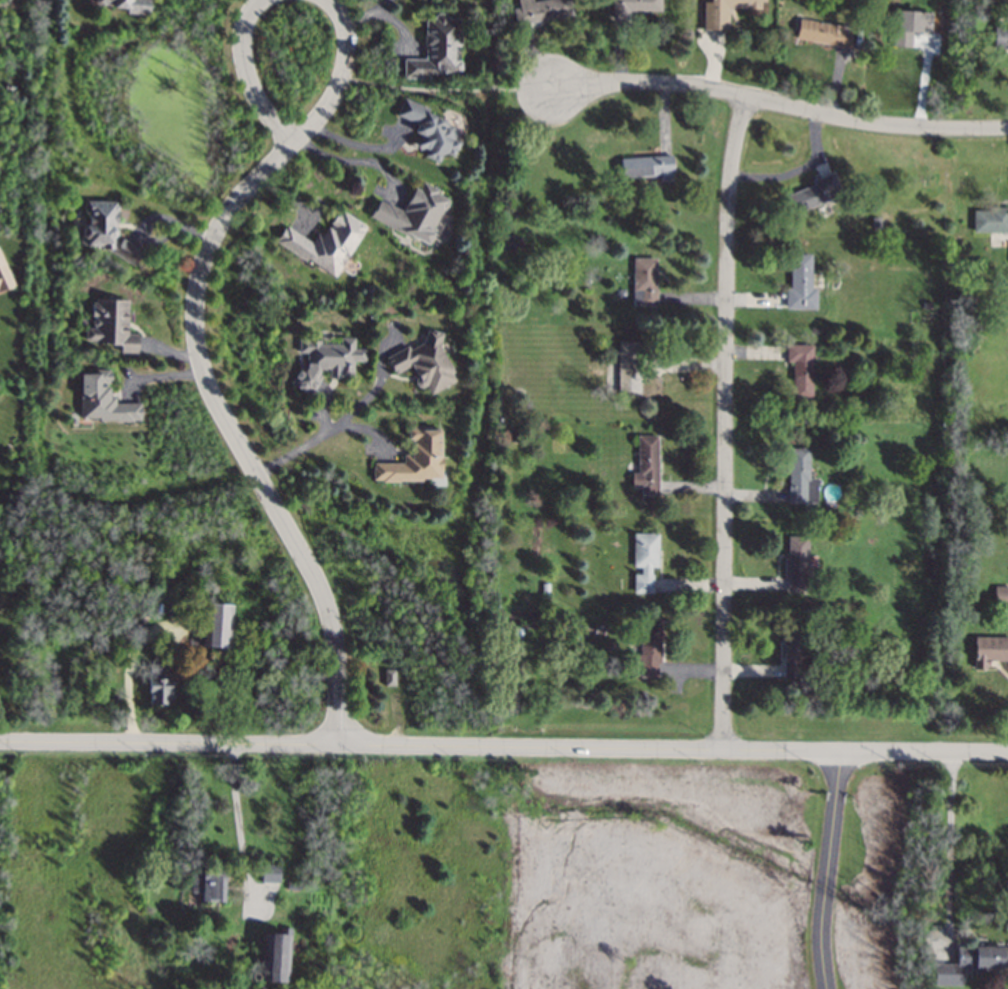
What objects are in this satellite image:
building: (128, 5)
building: (633, 7)
building: (540, 10)
building: (724, 11)
building: (910, 25)
building: (823, 32)
building: (1000, 36)
building: (437, 47)
road: (450, 89)
road: (782, 103)
building: (428, 130)
road: (295, 133)
road: (351, 160)
building: (647, 166)
road: (796, 170)
building: (815, 192)
building: (412, 212)
building: (989, 219)
building: (105, 229)
building: (324, 242)
building: (4, 274)
building: (644, 278)
building: (800, 283)
building: (110, 324)
building: (325, 360)
building: (423, 362)
building: (800, 368)
building: (102, 399)
road: (724, 418)
road: (228, 431)
road: (292, 451)
building: (413, 457)
building: (645, 466)
building: (800, 476)
building: (643, 559)
building: (799, 565)
building: (1000, 594)
building: (647, 650)
building: (989, 650)
building: (388, 676)
building: (158, 684)
road: (504, 742)
road: (238, 825)
road: (948, 843)
road: (827, 867)
building: (269, 873)
building: (209, 885)
building: (291, 886)
building: (275, 956)
building: (970, 963)

